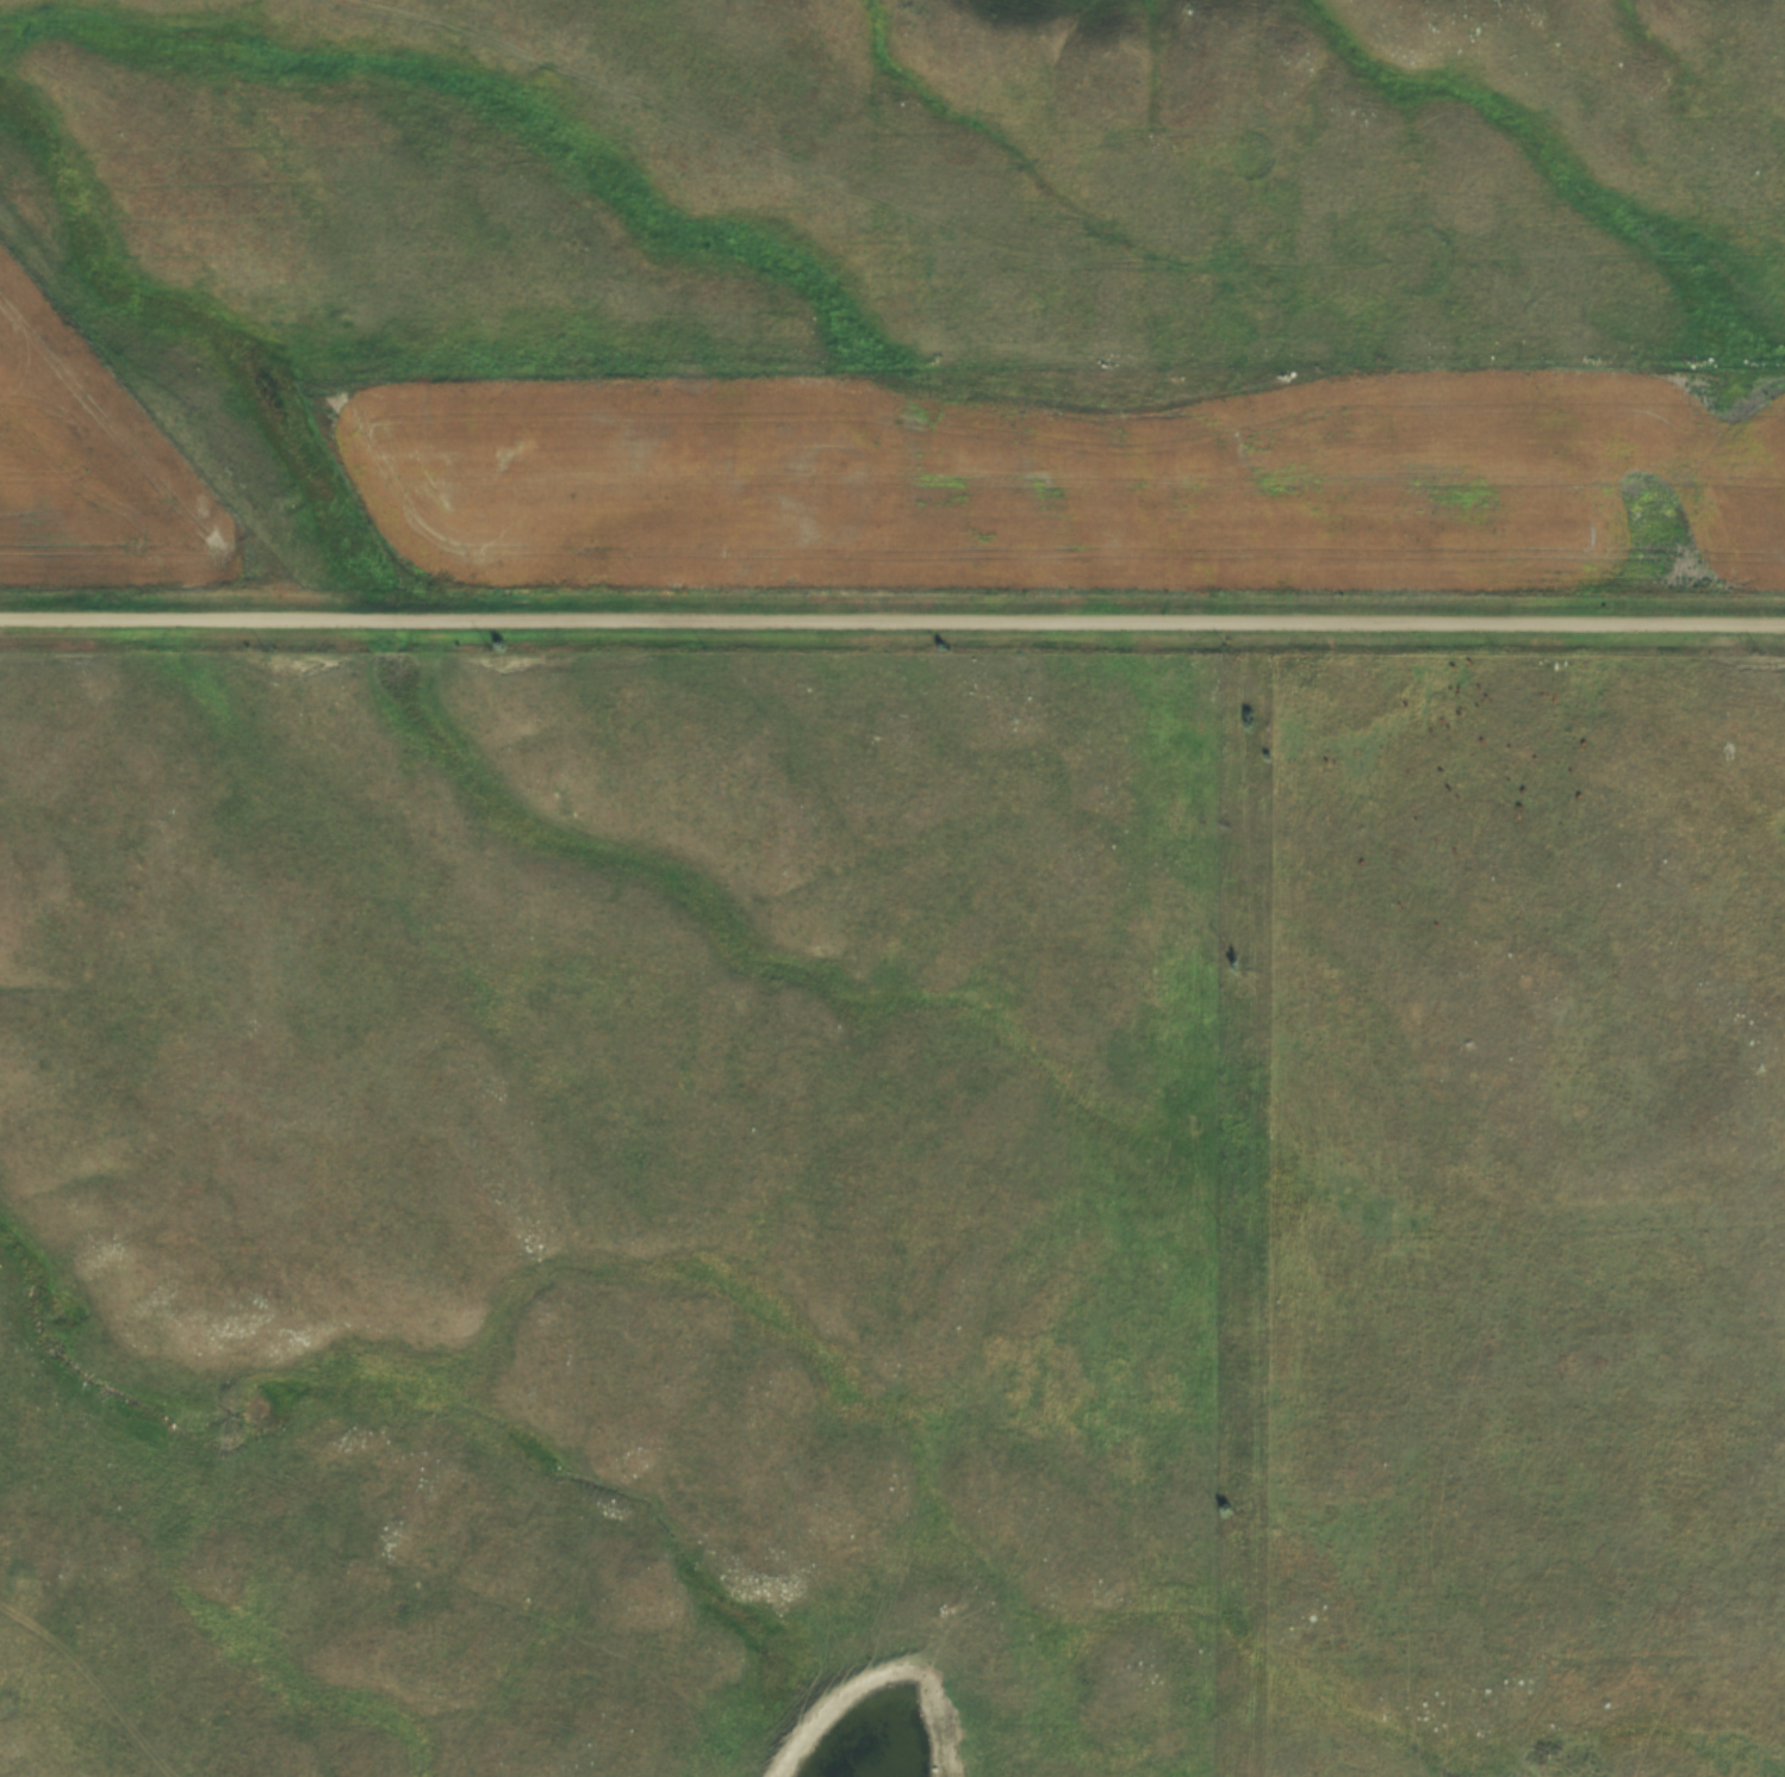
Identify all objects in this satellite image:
road: (891, 625)

